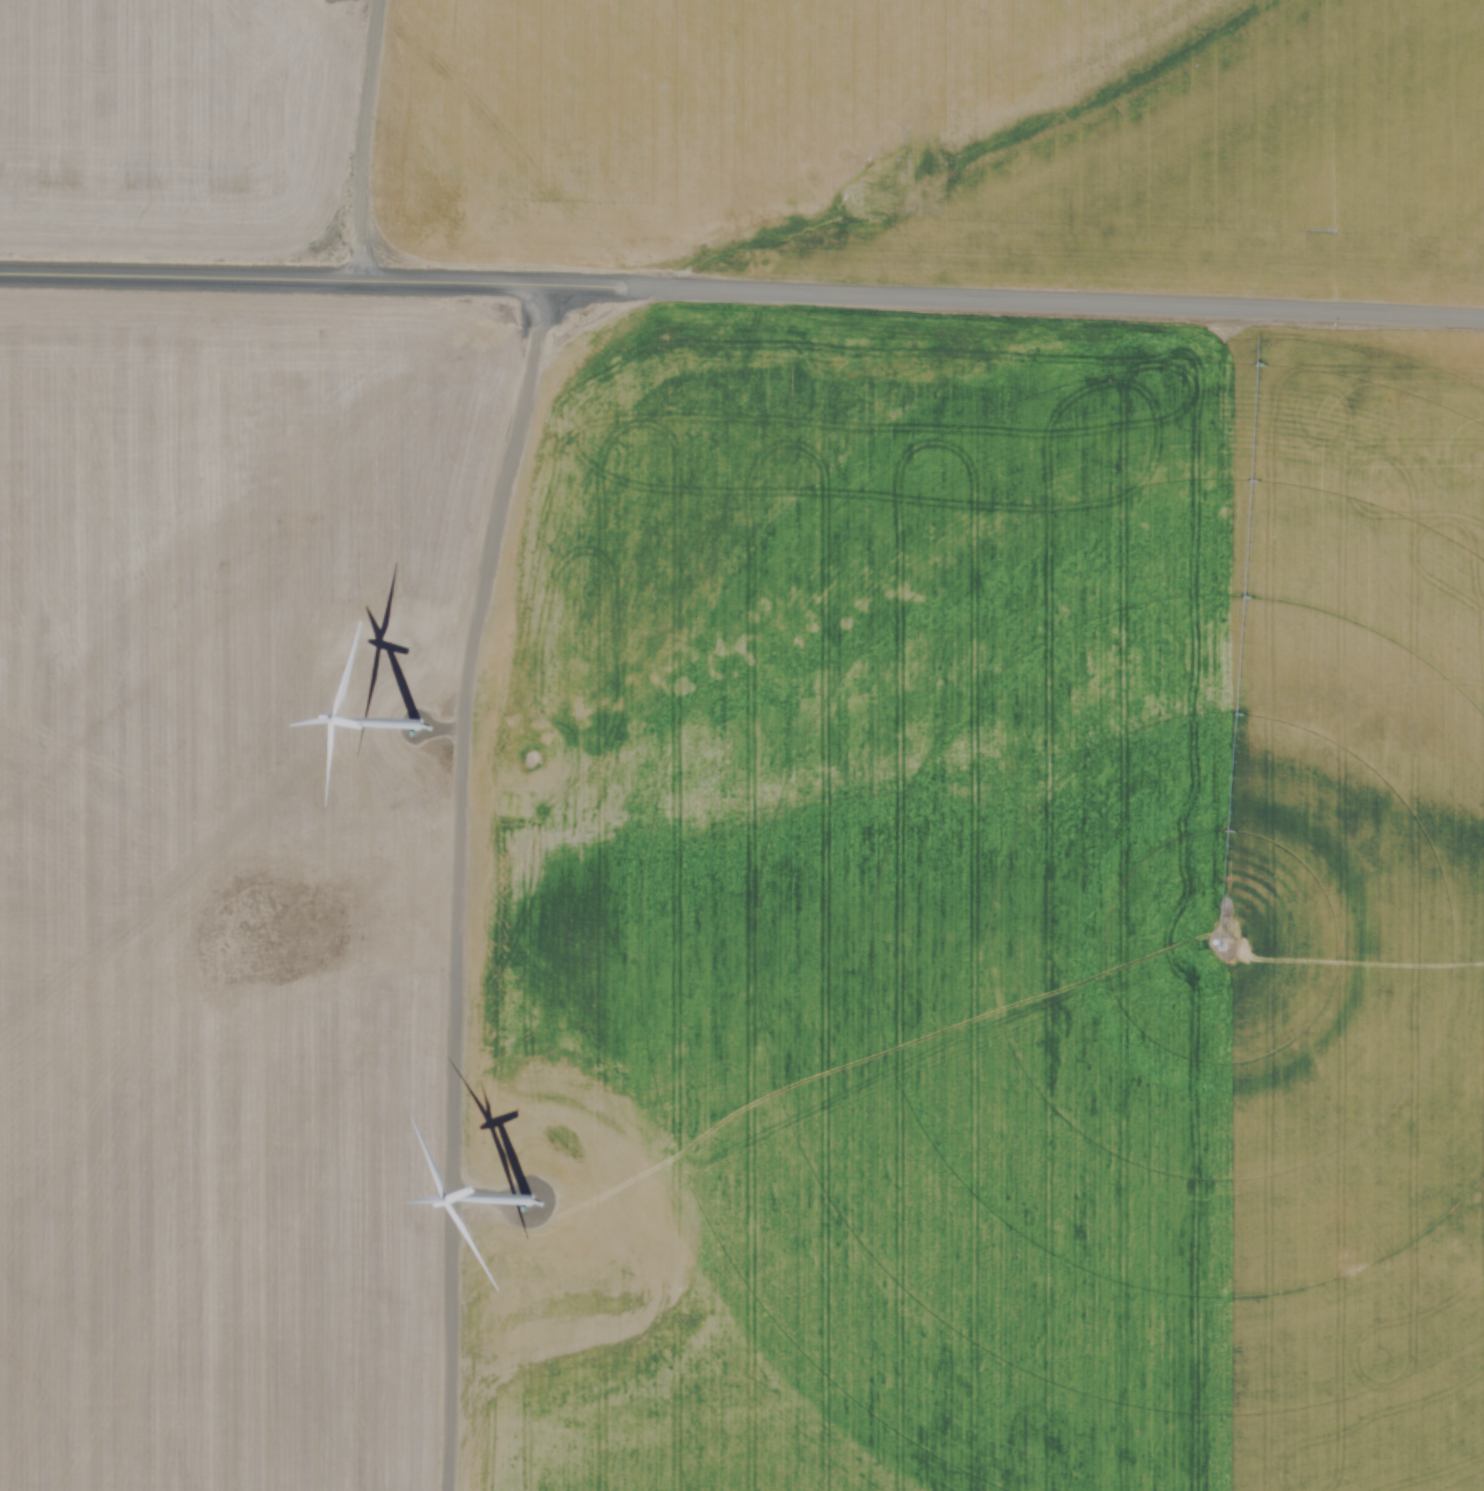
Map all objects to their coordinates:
road: (352, 137)
road: (313, 276)
road: (1055, 297)
wind turbine: (404, 736)
road: (452, 882)
wind turbine: (518, 1235)

